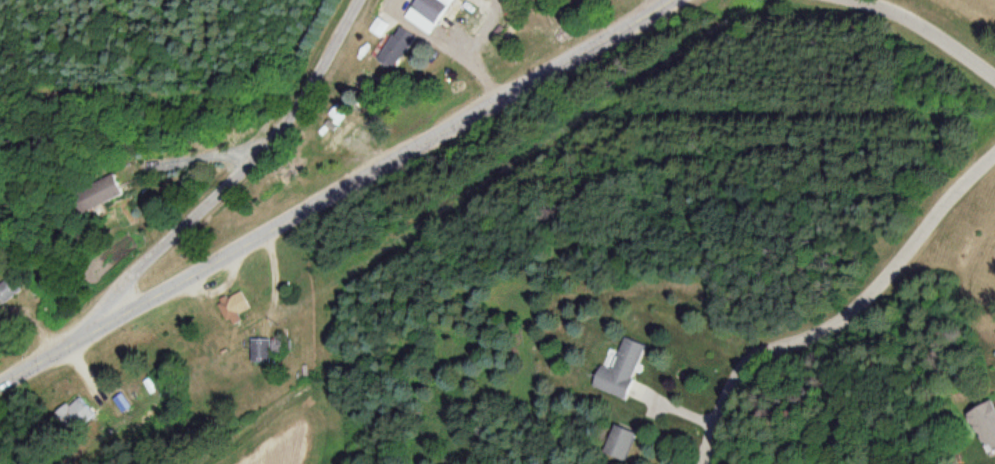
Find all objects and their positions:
building: (428, 14)
road: (571, 26)
road: (926, 34)
building: (397, 49)
building: (336, 116)
road: (236, 177)
road: (333, 192)
building: (108, 197)
building: (6, 291)
building: (233, 307)
road: (846, 316)
building: (264, 351)
building: (623, 372)
building: (74, 417)
building: (983, 429)
building: (621, 445)

